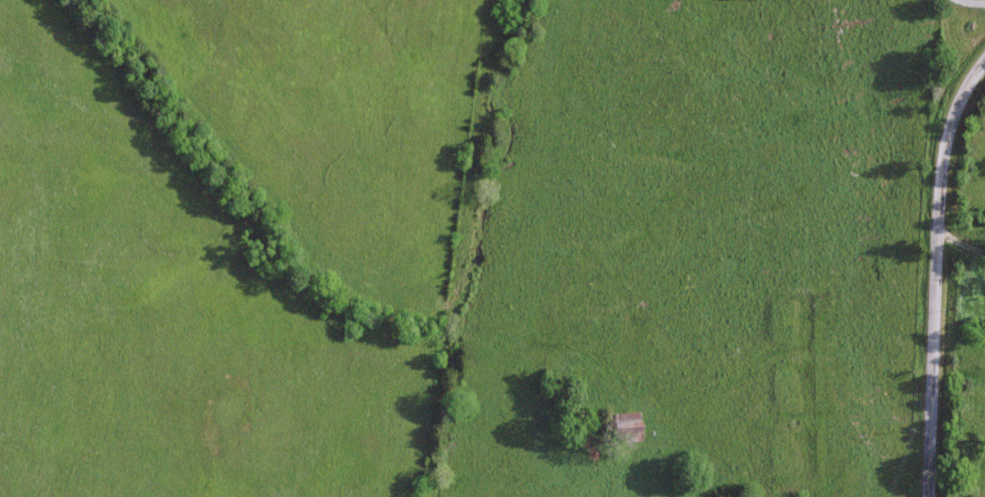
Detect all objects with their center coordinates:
road: (937, 269)
building: (625, 424)

